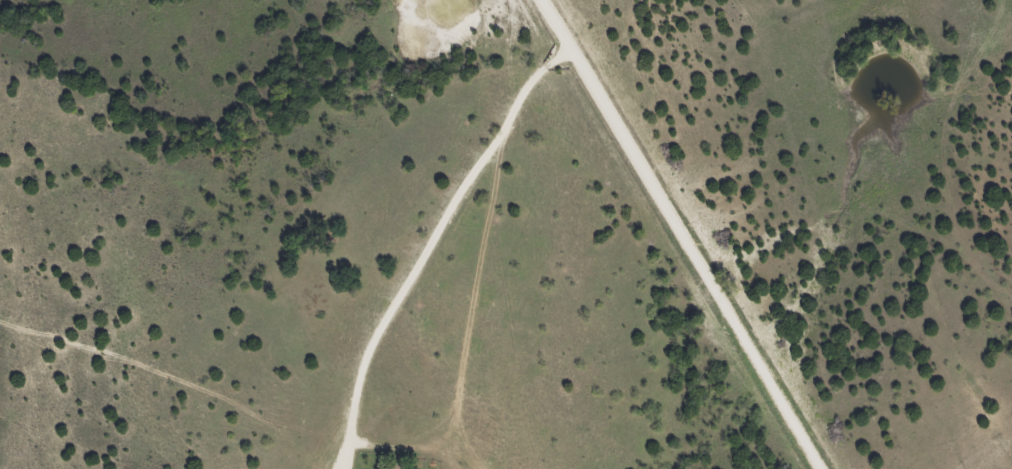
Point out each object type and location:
road: (687, 233)

